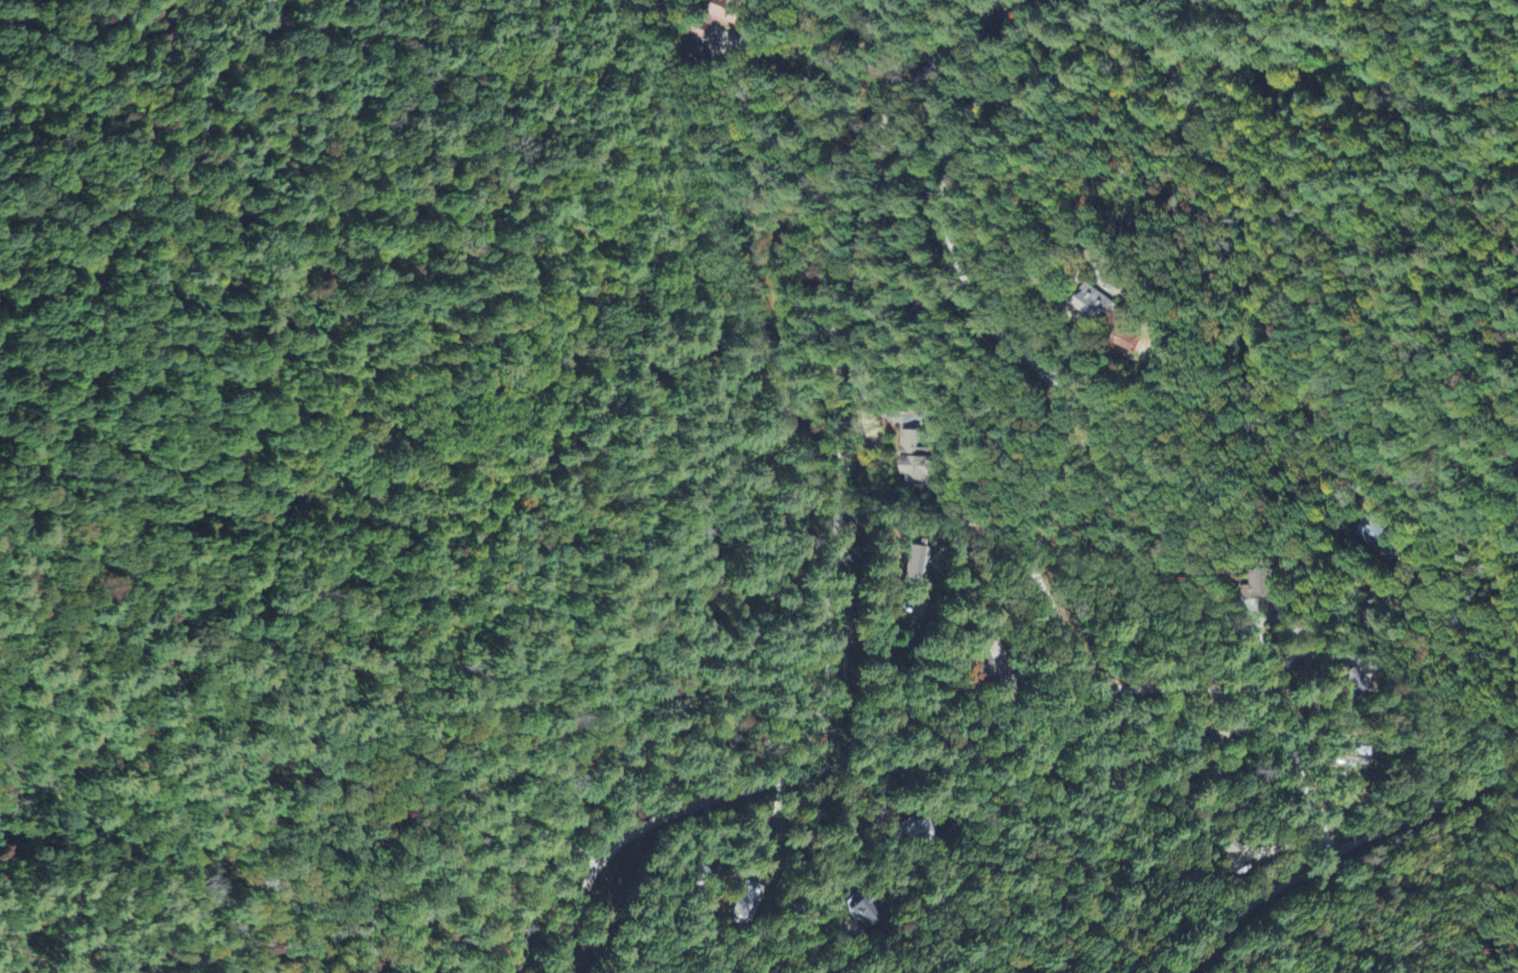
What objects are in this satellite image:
road: (1126, 31)
building: (1093, 305)
road: (274, 314)
building: (1125, 342)
building: (916, 461)
road: (1069, 487)
road: (837, 511)
building: (917, 569)
building: (1262, 590)
road: (1329, 627)
building: (1349, 682)
building: (1341, 760)
road: (1424, 807)
road: (477, 849)
building: (1233, 858)
building: (862, 914)

